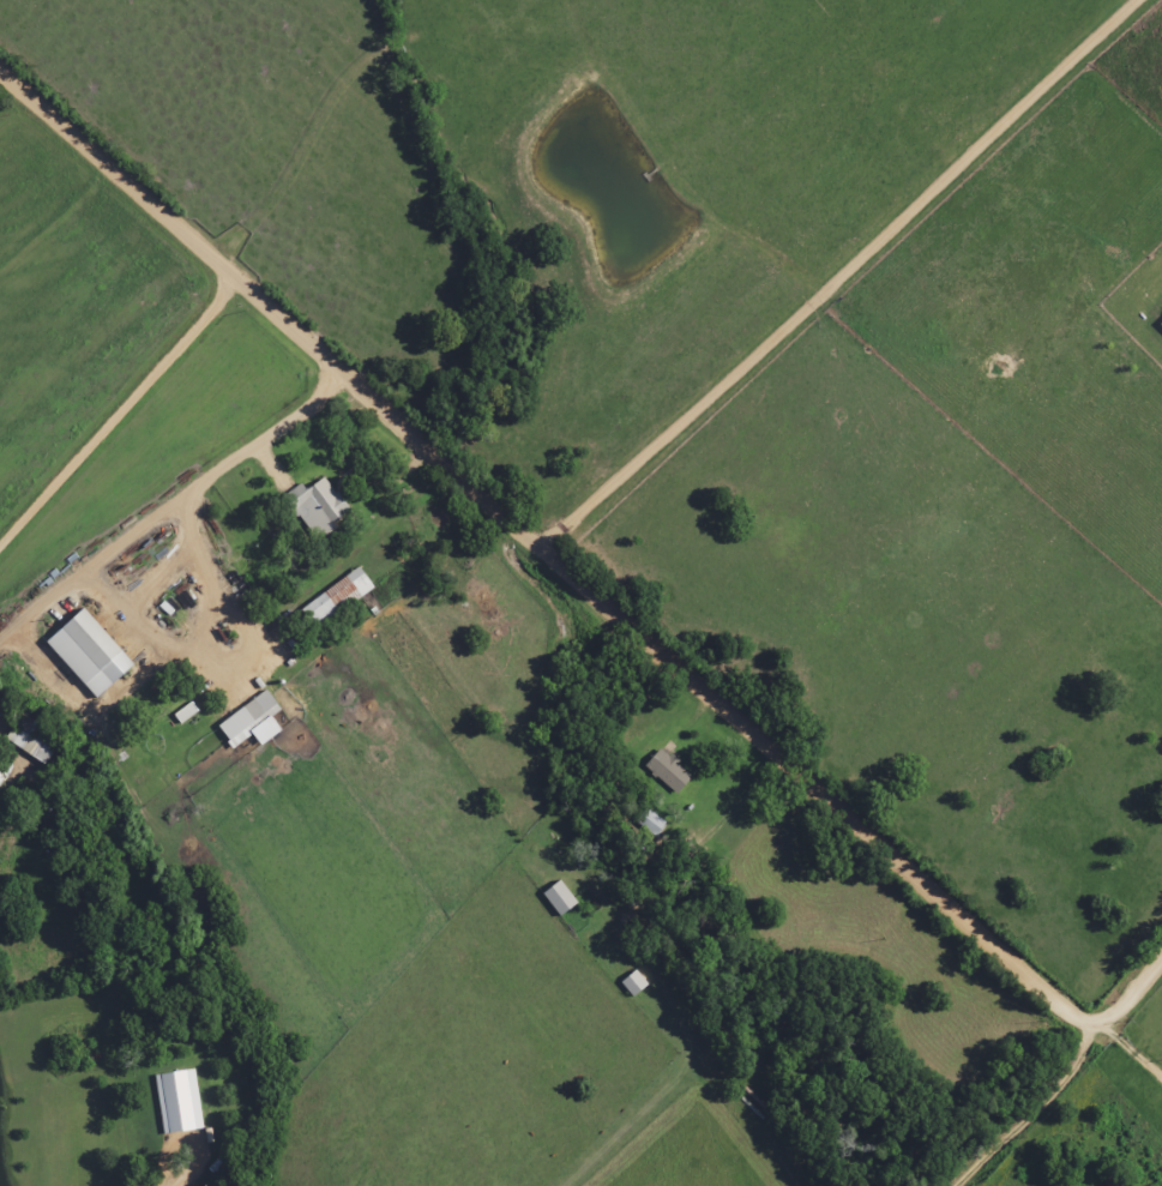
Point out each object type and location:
building: (309, 508)
road: (161, 510)
road: (579, 584)
building: (326, 600)
building: (79, 639)
building: (164, 714)
building: (240, 720)
building: (17, 738)
building: (656, 771)
building: (546, 898)
building: (620, 983)
road: (991, 1097)
building: (171, 1102)

